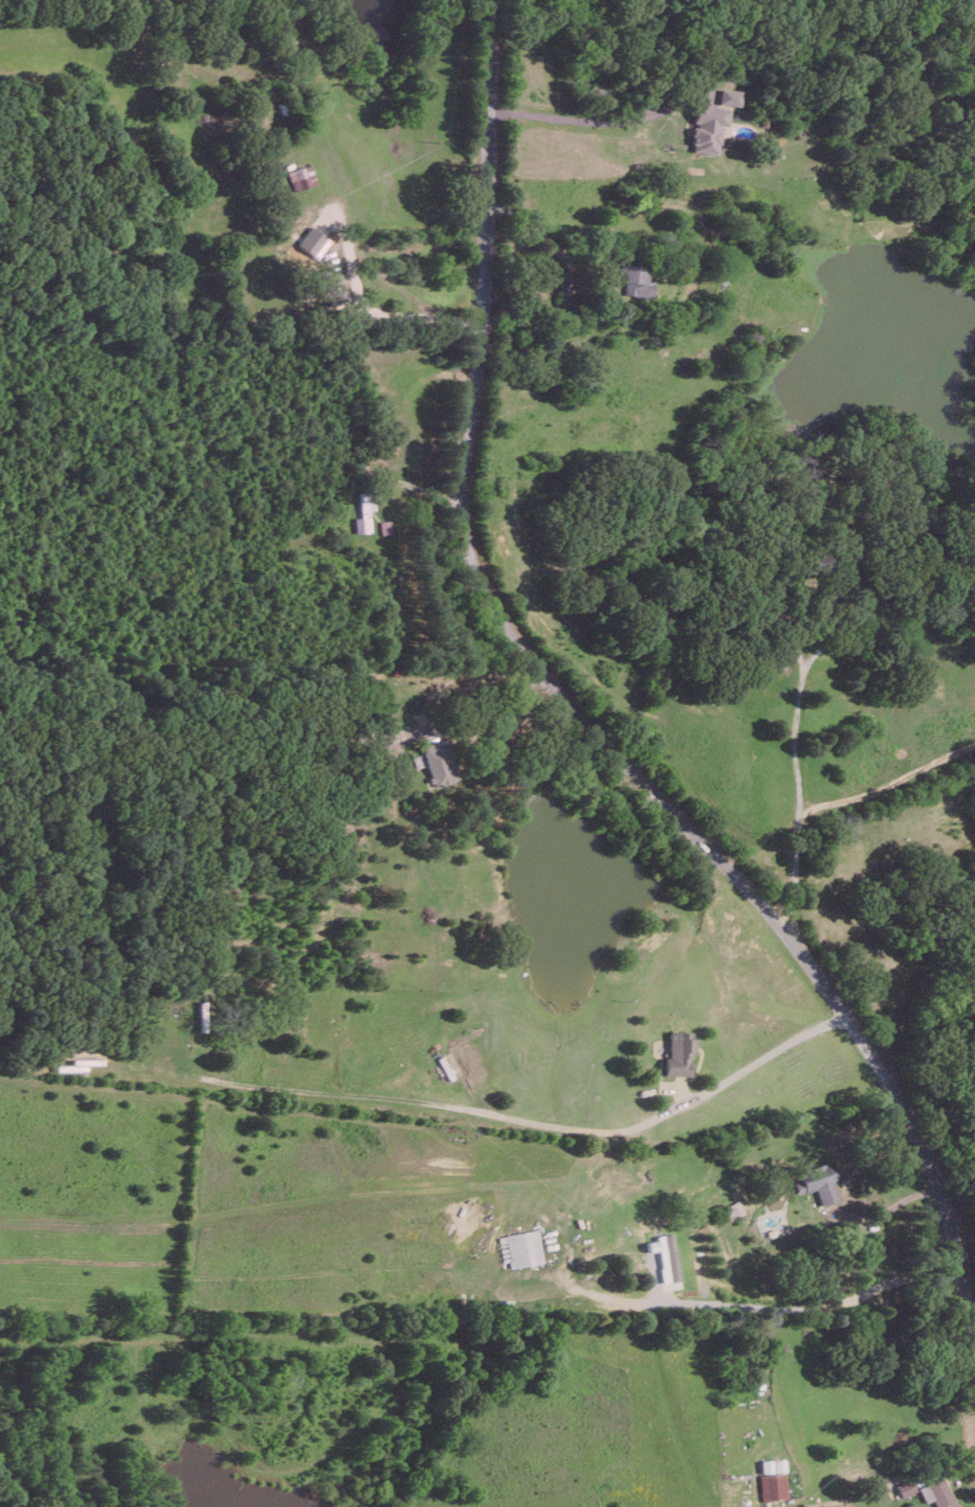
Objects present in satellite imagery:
building: (729, 96)
road: (584, 116)
building: (707, 128)
road: (417, 129)
building: (300, 177)
road: (539, 233)
building: (313, 242)
building: (632, 280)
building: (334, 289)
building: (365, 511)
road: (578, 681)
road: (799, 687)
road: (488, 706)
building: (439, 762)
road: (931, 944)
building: (678, 1055)
road: (533, 1116)
building: (821, 1183)
building: (520, 1248)
building: (665, 1256)
road: (765, 1306)
building: (771, 1482)
building: (905, 1487)
building: (937, 1492)

